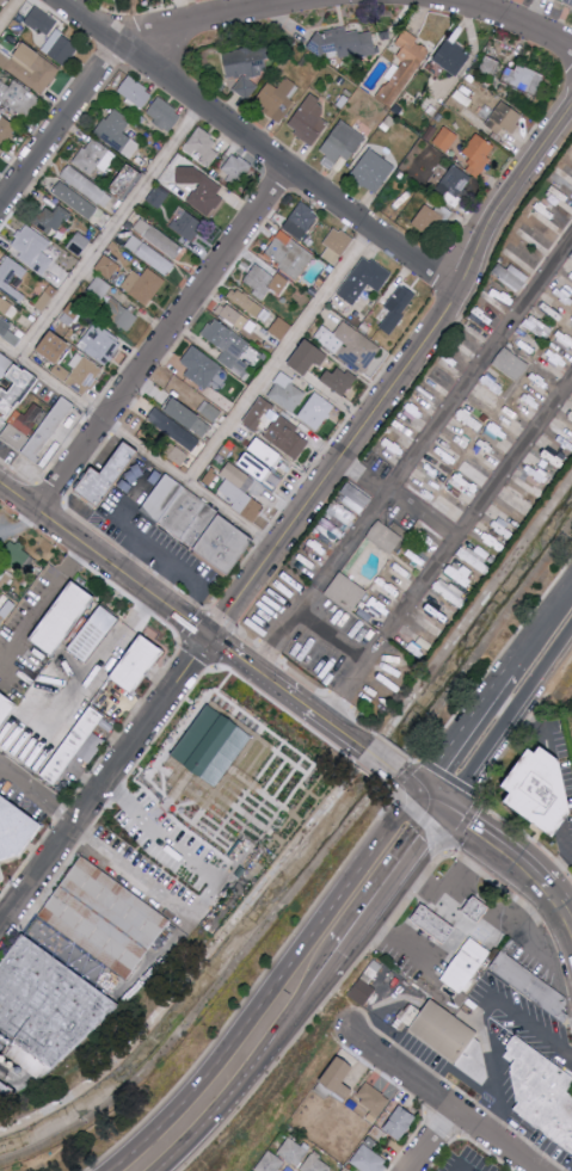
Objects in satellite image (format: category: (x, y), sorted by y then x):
building: (2, 2)
building: (567, 4)
road: (10, 13)
road: (502, 17)
building: (41, 20)
road: (118, 42)
building: (343, 43)
building: (60, 47)
building: (451, 56)
building: (247, 61)
building: (404, 68)
building: (488, 68)
building: (523, 78)
building: (245, 87)
building: (135, 91)
building: (17, 97)
building: (164, 113)
building: (504, 117)
building: (309, 119)
building: (5, 129)
building: (117, 132)
building: (445, 138)
building: (343, 142)
road: (258, 144)
building: (205, 153)
building: (478, 154)
building: (93, 158)
building: (236, 167)
building: (373, 171)
building: (127, 179)
building: (456, 181)
building: (86, 185)
building: (158, 196)
building: (74, 199)
building: (49, 218)
building: (300, 220)
building: (428, 220)
building: (186, 223)
road: (109, 230)
building: (534, 238)
building: (158, 239)
building: (26, 240)
building: (337, 240)
building: (79, 244)
building: (149, 254)
building: (289, 254)
building: (571, 257)
building: (41, 263)
building: (107, 265)
building: (511, 276)
building: (12, 277)
building: (364, 278)
building: (264, 282)
building: (143, 285)
building: (98, 288)
building: (244, 301)
building: (8, 306)
building: (396, 308)
building: (118, 314)
building: (230, 315)
building: (8, 327)
building: (281, 327)
road: (162, 339)
building: (99, 343)
building: (228, 346)
building: (352, 346)
road: (279, 356)
building: (308, 357)
building: (510, 363)
building: (5, 364)
building: (70, 364)
building: (201, 366)
road: (396, 377)
building: (0, 380)
building: (339, 380)
building: (287, 393)
building: (315, 411)
building: (210, 412)
building: (258, 414)
building: (511, 415)
building: (30, 417)
building: (189, 417)
building: (173, 430)
building: (288, 437)
road: (136, 446)
building: (266, 452)
road: (413, 455)
building: (256, 466)
building: (110, 475)
building: (525, 488)
building: (239, 492)
building: (355, 498)
road: (399, 498)
building: (199, 524)
road: (17, 526)
building: (385, 536)
building: (324, 537)
road: (153, 550)
road: (90, 551)
road: (449, 553)
building: (14, 557)
building: (474, 561)
building: (459, 573)
building: (6, 579)
building: (346, 591)
building: (450, 593)
road: (43, 600)
building: (7, 610)
road: (545, 618)
building: (62, 620)
road: (196, 628)
building: (94, 635)
road: (334, 637)
traffic signals: (210, 639)
road: (232, 654)
road: (99, 662)
building: (137, 665)
road: (272, 684)
road: (299, 703)
building: (6, 710)
road: (465, 721)
road: (508, 722)
road: (334, 728)
road: (537, 729)
building: (78, 747)
building: (211, 747)
road: (380, 763)
road: (405, 781)
road: (106, 787)
traffic signals: (413, 789)
road: (242, 790)
building: (537, 791)
road: (39, 797)
road: (429, 801)
traffic signals: (444, 813)
building: (14, 830)
road: (499, 848)
road: (564, 859)
road: (128, 868)
parking lot: (143, 877)
building: (0, 880)
road: (395, 882)
road: (459, 893)
road: (562, 904)
building: (482, 908)
building: (105, 922)
building: (439, 923)
road: (500, 924)
road: (387, 926)
road: (406, 939)
road: (338, 962)
building: (469, 966)
building: (525, 985)
road: (272, 992)
building: (365, 993)
road: (345, 999)
building: (45, 1010)
road: (531, 1019)
road: (368, 1023)
building: (453, 1040)
road: (5, 1066)
road: (250, 1074)
building: (338, 1079)
road: (498, 1089)
building: (6, 1092)
building: (540, 1092)
building: (373, 1099)
road: (442, 1103)
building: (401, 1121)
road: (433, 1142)
building: (294, 1151)
building: (368, 1157)
building: (269, 1161)
building: (315, 1164)
road: (457, 1169)
road: (533, 1170)

